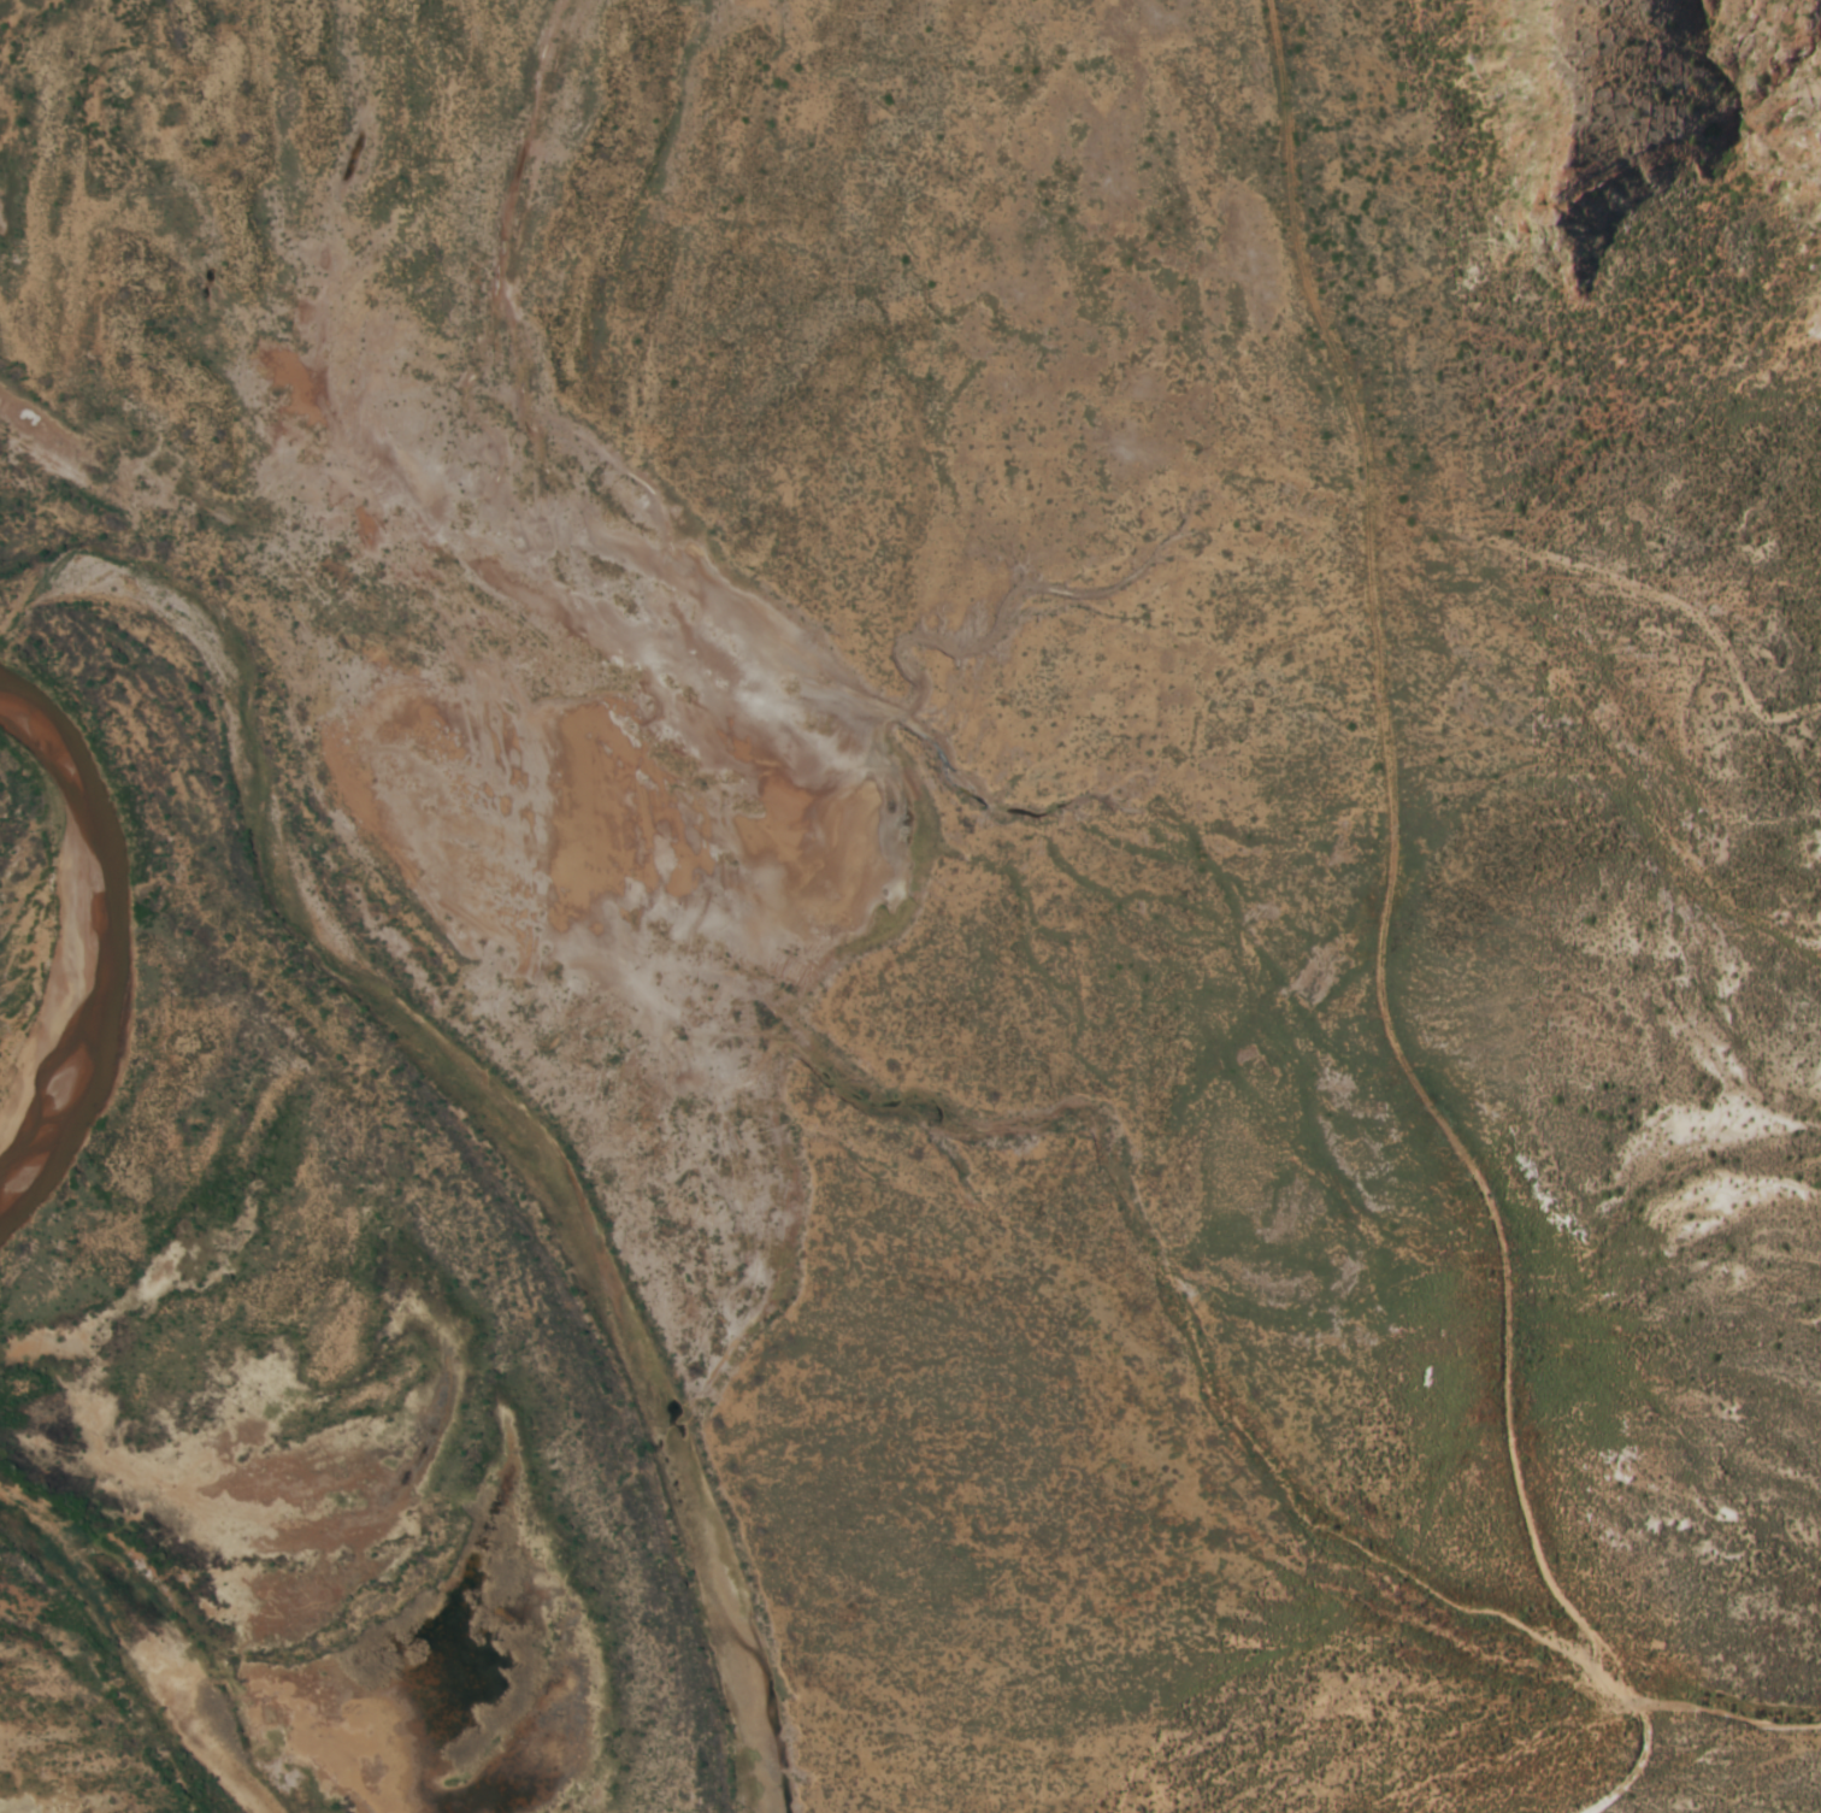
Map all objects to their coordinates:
river: (476, 1094)
river: (143, 1641)

